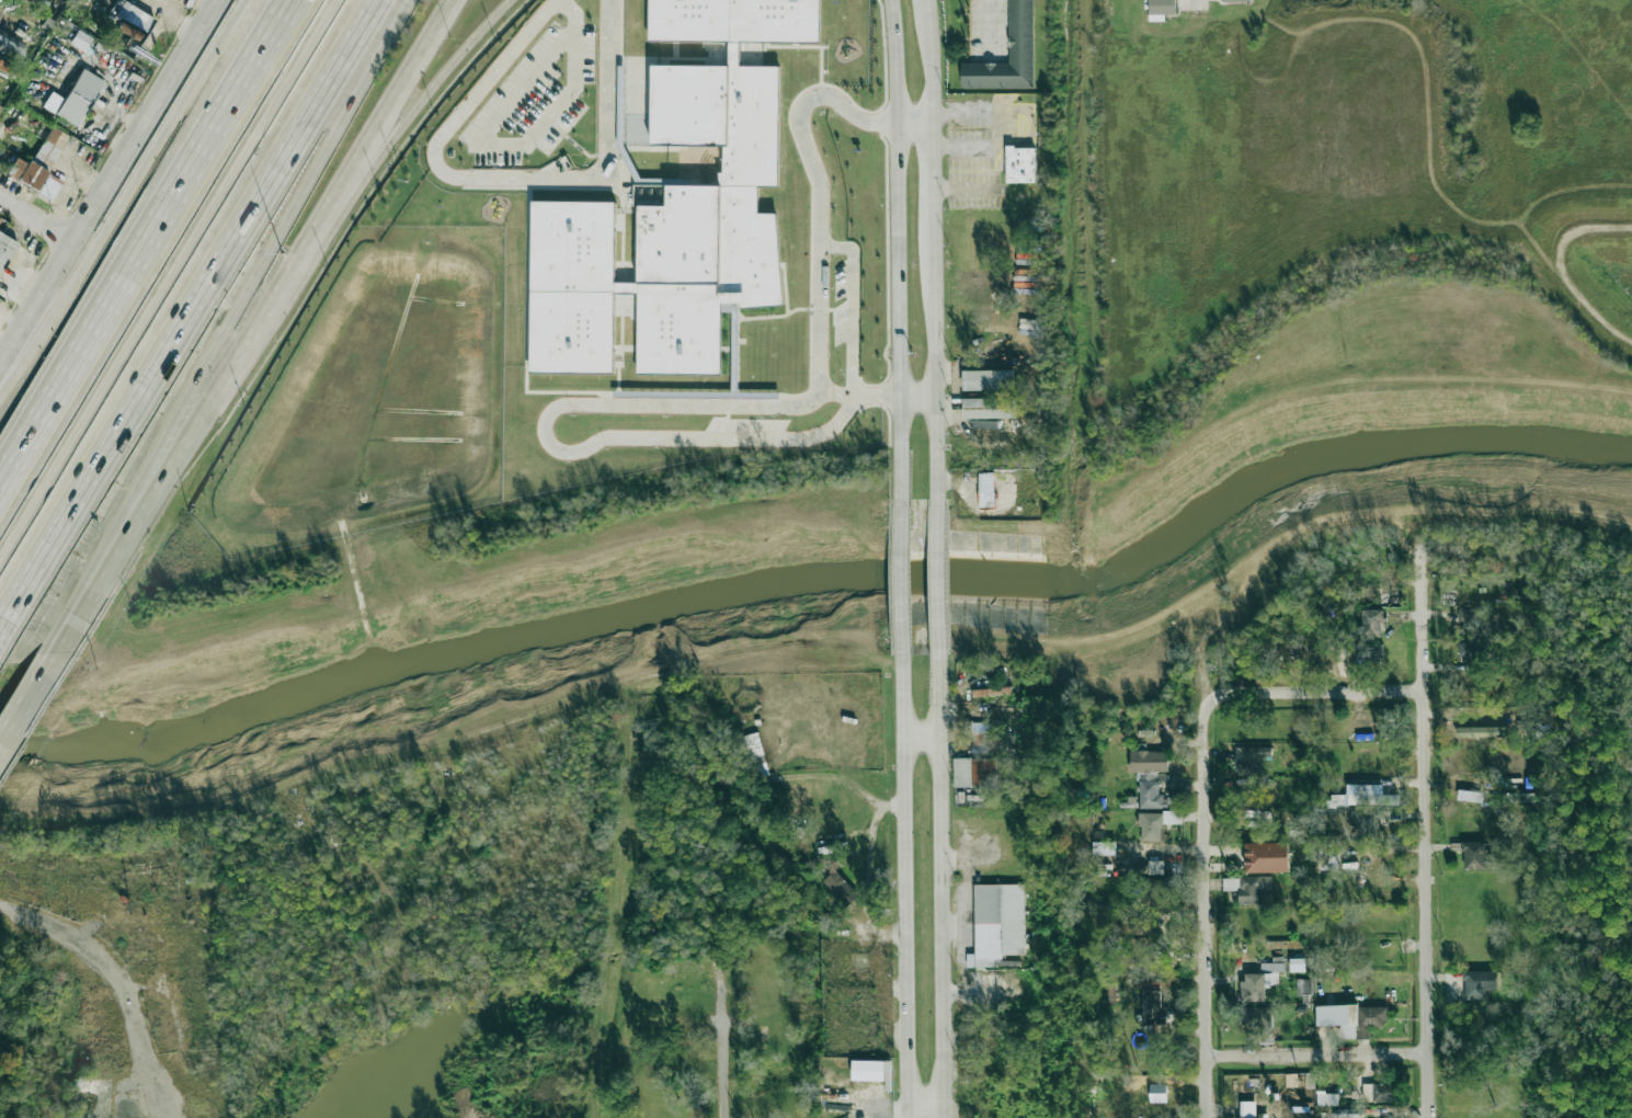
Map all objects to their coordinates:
building: (1234, 0)
road: (1199, 2)
building: (1161, 9)
road: (928, 12)
road: (574, 16)
building: (137, 19)
road: (989, 24)
parking lot: (990, 31)
building: (1020, 31)
building: (80, 39)
road: (932, 78)
road: (525, 85)
road: (410, 87)
road: (436, 87)
road: (563, 96)
building: (79, 99)
parking lot: (535, 99)
building: (0, 105)
road: (914, 130)
building: (19, 140)
road: (501, 147)
parking lot: (977, 152)
building: (38, 160)
building: (1020, 163)
road: (503, 179)
road: (111, 184)
road: (933, 186)
road: (820, 194)
road: (125, 204)
building: (677, 208)
road: (38, 219)
road: (145, 239)
building: (5, 249)
road: (897, 252)
road: (164, 276)
parking lot: (842, 303)
road: (853, 306)
road: (197, 310)
road: (1, 317)
road: (12, 320)
road: (229, 328)
road: (935, 374)
building: (988, 379)
road: (860, 396)
road: (917, 399)
building: (989, 408)
road: (209, 413)
parking lot: (747, 424)
building: (985, 424)
road: (557, 450)
building: (986, 486)
building: (985, 499)
road: (900, 577)
road: (937, 577)
river: (826, 582)
building: (1390, 596)
building: (1469, 617)
building: (1372, 621)
building: (1470, 651)
building: (1368, 652)
building: (992, 692)
road: (1323, 695)
road: (30, 701)
building: (1481, 731)
building: (978, 734)
road: (922, 738)
building: (755, 755)
building: (1252, 758)
building: (982, 772)
building: (1149, 776)
building: (1469, 796)
building: (1365, 798)
building: (1518, 798)
road: (876, 811)
building: (1156, 823)
building: (1367, 823)
road: (1428, 833)
building: (1104, 848)
building: (1328, 856)
building: (1476, 856)
building: (1267, 857)
road: (944, 881)
road: (905, 882)
building: (841, 888)
building: (1251, 888)
building: (1153, 891)
road: (1208, 905)
building: (998, 919)
building: (1141, 927)
building: (1140, 944)
building: (1298, 965)
building: (1260, 981)
building: (1479, 983)
building: (1303, 985)
road: (109, 986)
building: (1152, 1007)
building: (1257, 1017)
building: (1353, 1018)
road: (724, 1043)
road: (1322, 1054)
building: (1378, 1092)
building: (1157, 1093)
building: (1327, 1098)
road: (927, 1103)
building: (1252, 1110)

